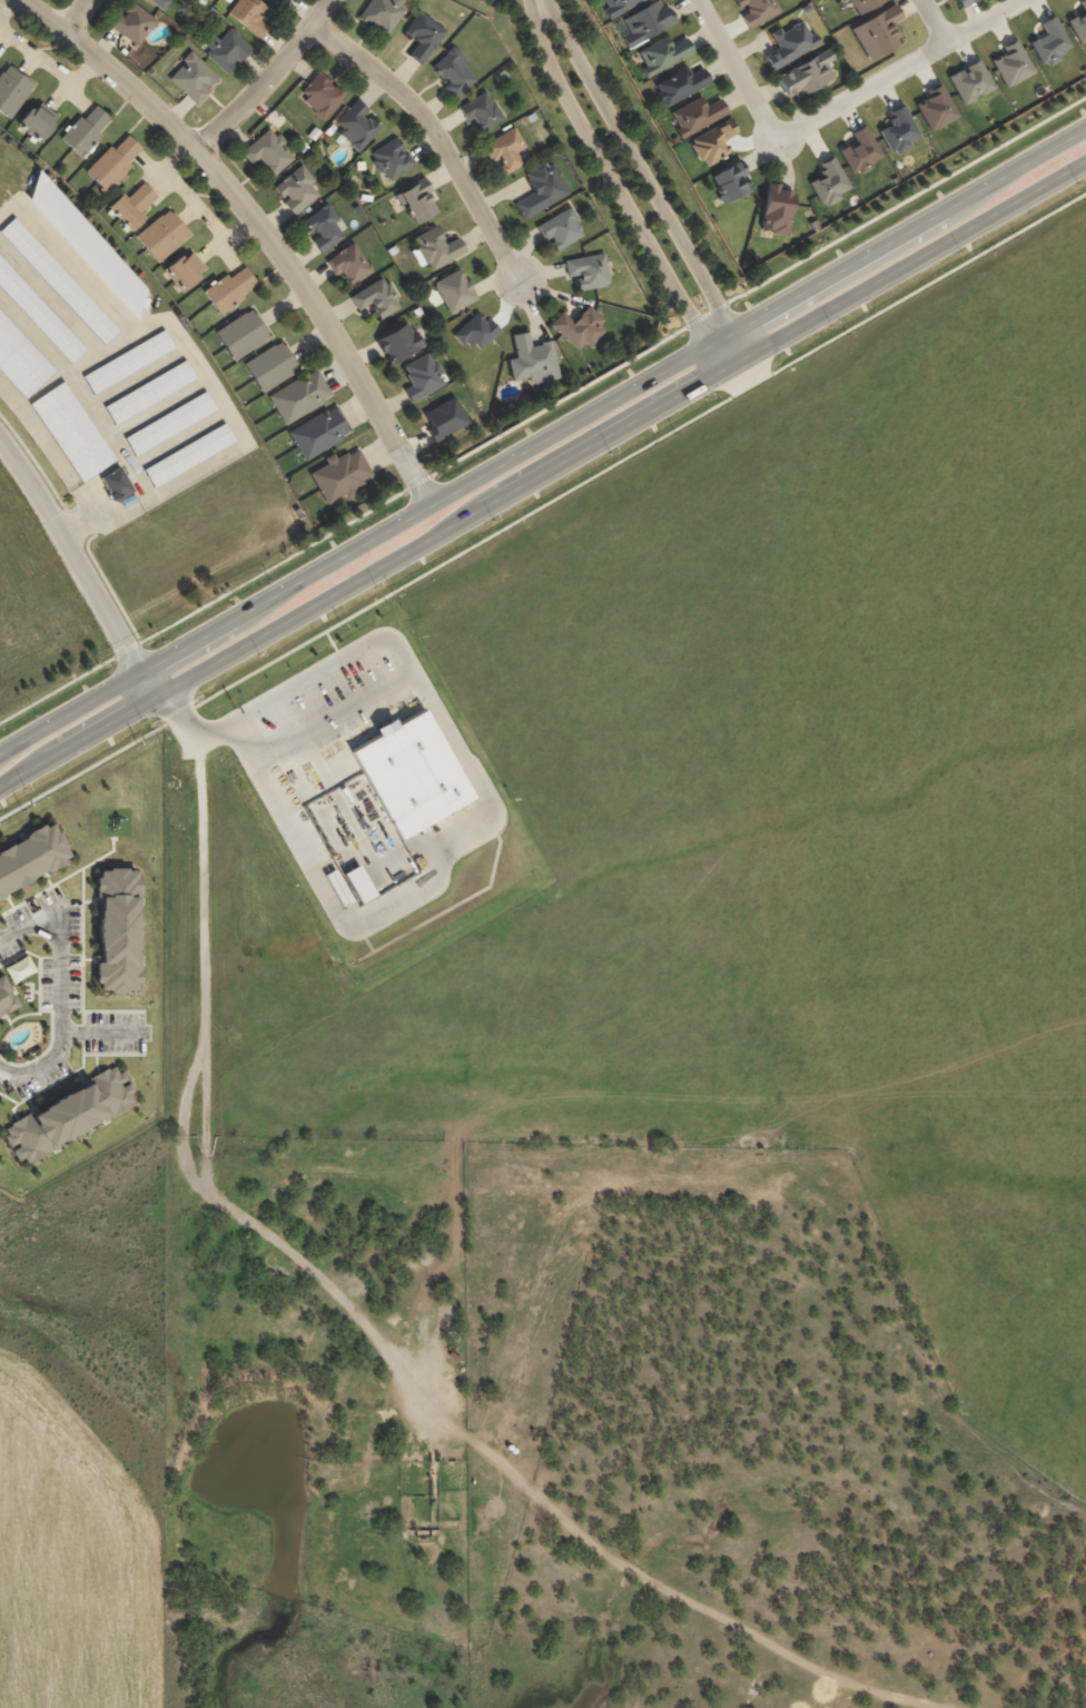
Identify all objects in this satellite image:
building: (227, 0)
building: (278, 0)
building: (284, 1)
building: (159, 2)
building: (962, 2)
building: (863, 4)
building: (616, 6)
building: (804, 8)
building: (210, 10)
building: (757, 10)
road: (80, 13)
building: (381, 13)
building: (248, 14)
building: (645, 21)
road: (935, 21)
building: (132, 22)
building: (1078, 23)
building: (877, 33)
building: (423, 36)
building: (1049, 42)
building: (789, 45)
building: (227, 50)
building: (662, 53)
building: (1011, 63)
road: (740, 69)
road: (900, 69)
building: (453, 71)
building: (806, 73)
building: (502, 75)
road: (270, 77)
building: (192, 78)
building: (970, 81)
building: (680, 85)
building: (12, 90)
building: (320, 95)
building: (936, 107)
building: (480, 111)
building: (697, 115)
building: (530, 117)
building: (38, 120)
building: (356, 126)
building: (328, 129)
building: (898, 129)
building: (85, 130)
building: (314, 134)
road: (437, 136)
building: (302, 147)
building: (504, 149)
building: (860, 150)
building: (268, 151)
building: (391, 158)
building: (112, 162)
building: (359, 165)
road: (638, 166)
road: (609, 176)
building: (829, 181)
building: (730, 182)
building: (296, 189)
building: (541, 189)
building: (365, 197)
building: (416, 200)
building: (132, 205)
building: (776, 208)
building: (813, 225)
road: (259, 226)
building: (323, 227)
building: (560, 228)
building: (161, 235)
building: (87, 244)
building: (436, 247)
building: (392, 249)
building: (348, 264)
building: (588, 270)
building: (184, 271)
building: (59, 279)
building: (229, 288)
building: (454, 290)
building: (376, 297)
building: (416, 310)
building: (39, 314)
building: (579, 327)
building: (241, 334)
building: (398, 343)
road: (192, 352)
building: (477, 354)
road: (748, 354)
building: (20, 359)
building: (533, 359)
building: (128, 361)
building: (270, 366)
road: (721, 368)
building: (483, 369)
building: (422, 377)
building: (149, 392)
building: (299, 395)
road: (543, 411)
building: (169, 423)
building: (71, 431)
building: (318, 433)
road: (542, 438)
road: (49, 450)
building: (188, 454)
road: (542, 472)
building: (340, 475)
building: (115, 484)
road: (542, 505)
road: (78, 526)
road: (72, 553)
road: (154, 681)
road: (180, 718)
road: (333, 718)
building: (412, 773)
road: (490, 816)
building: (118, 818)
road: (115, 819)
building: (115, 826)
road: (111, 827)
building: (30, 857)
road: (62, 879)
building: (358, 883)
building: (117, 931)
building: (19, 969)
road: (61, 994)
building: (6, 997)
road: (105, 1033)
building: (68, 1115)
road: (378, 1342)

